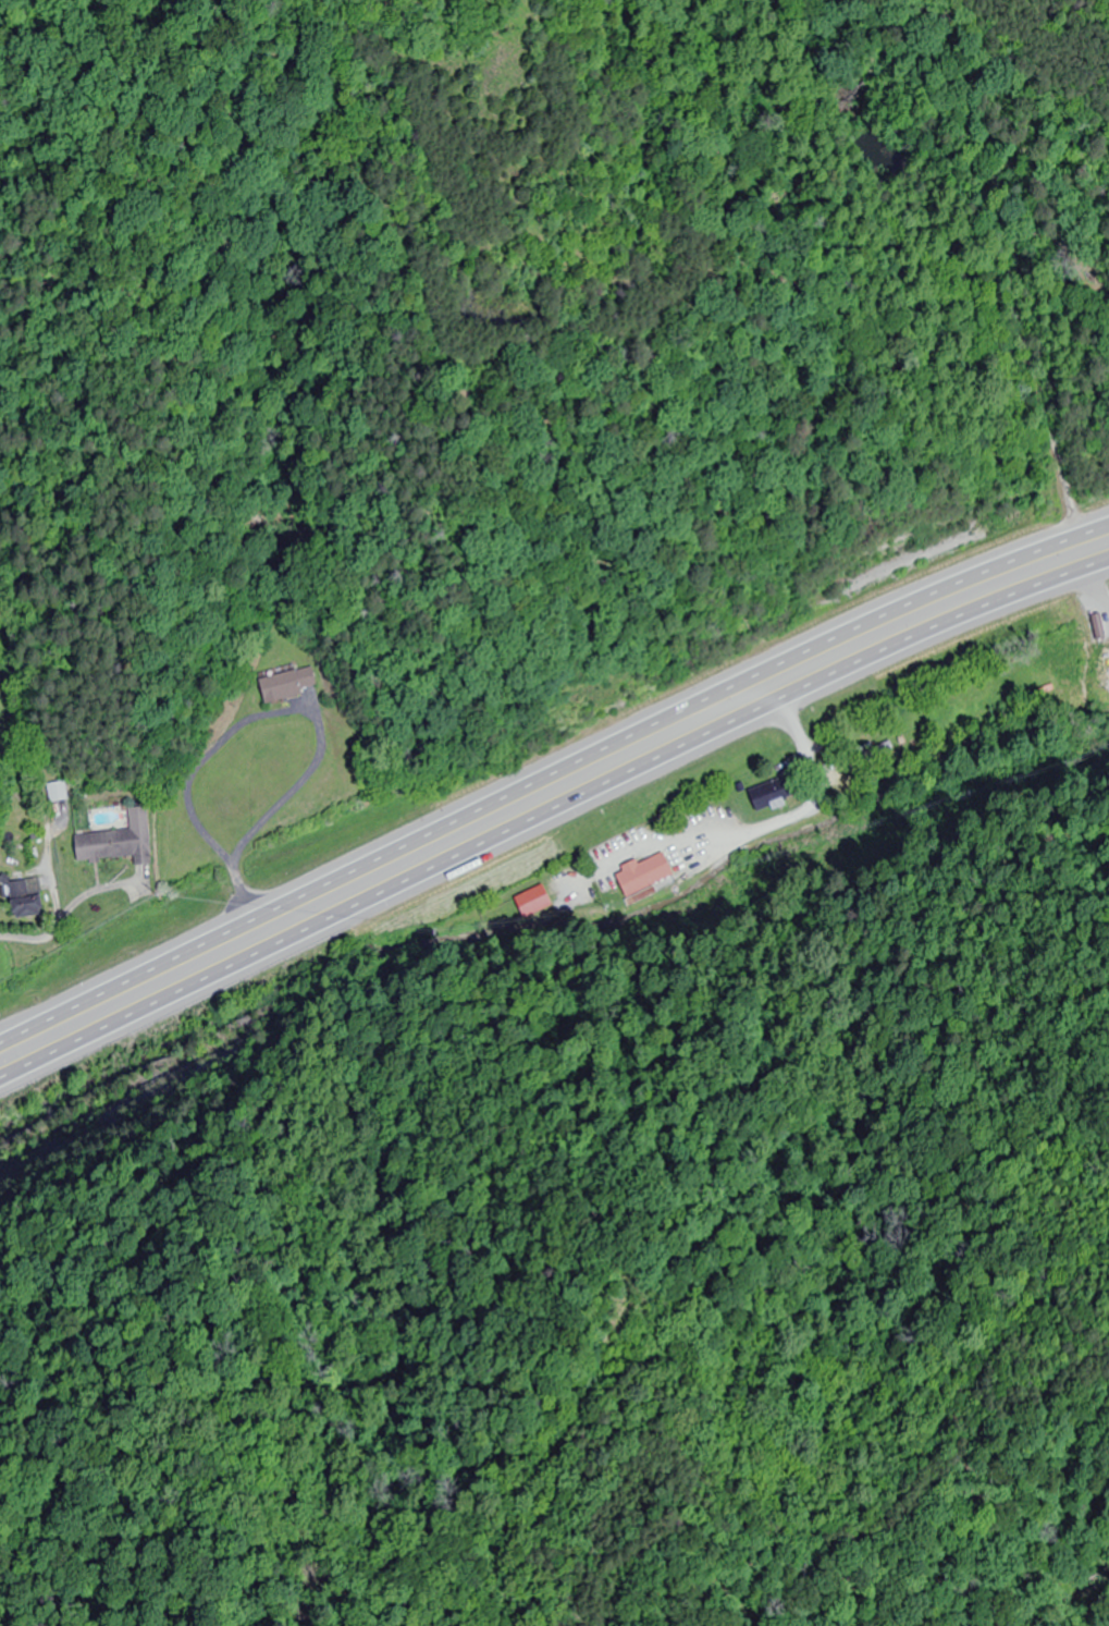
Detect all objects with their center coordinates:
building: (292, 685)
road: (549, 778)
building: (778, 795)
road: (550, 811)
building: (140, 834)
building: (107, 846)
building: (646, 875)
building: (29, 900)

